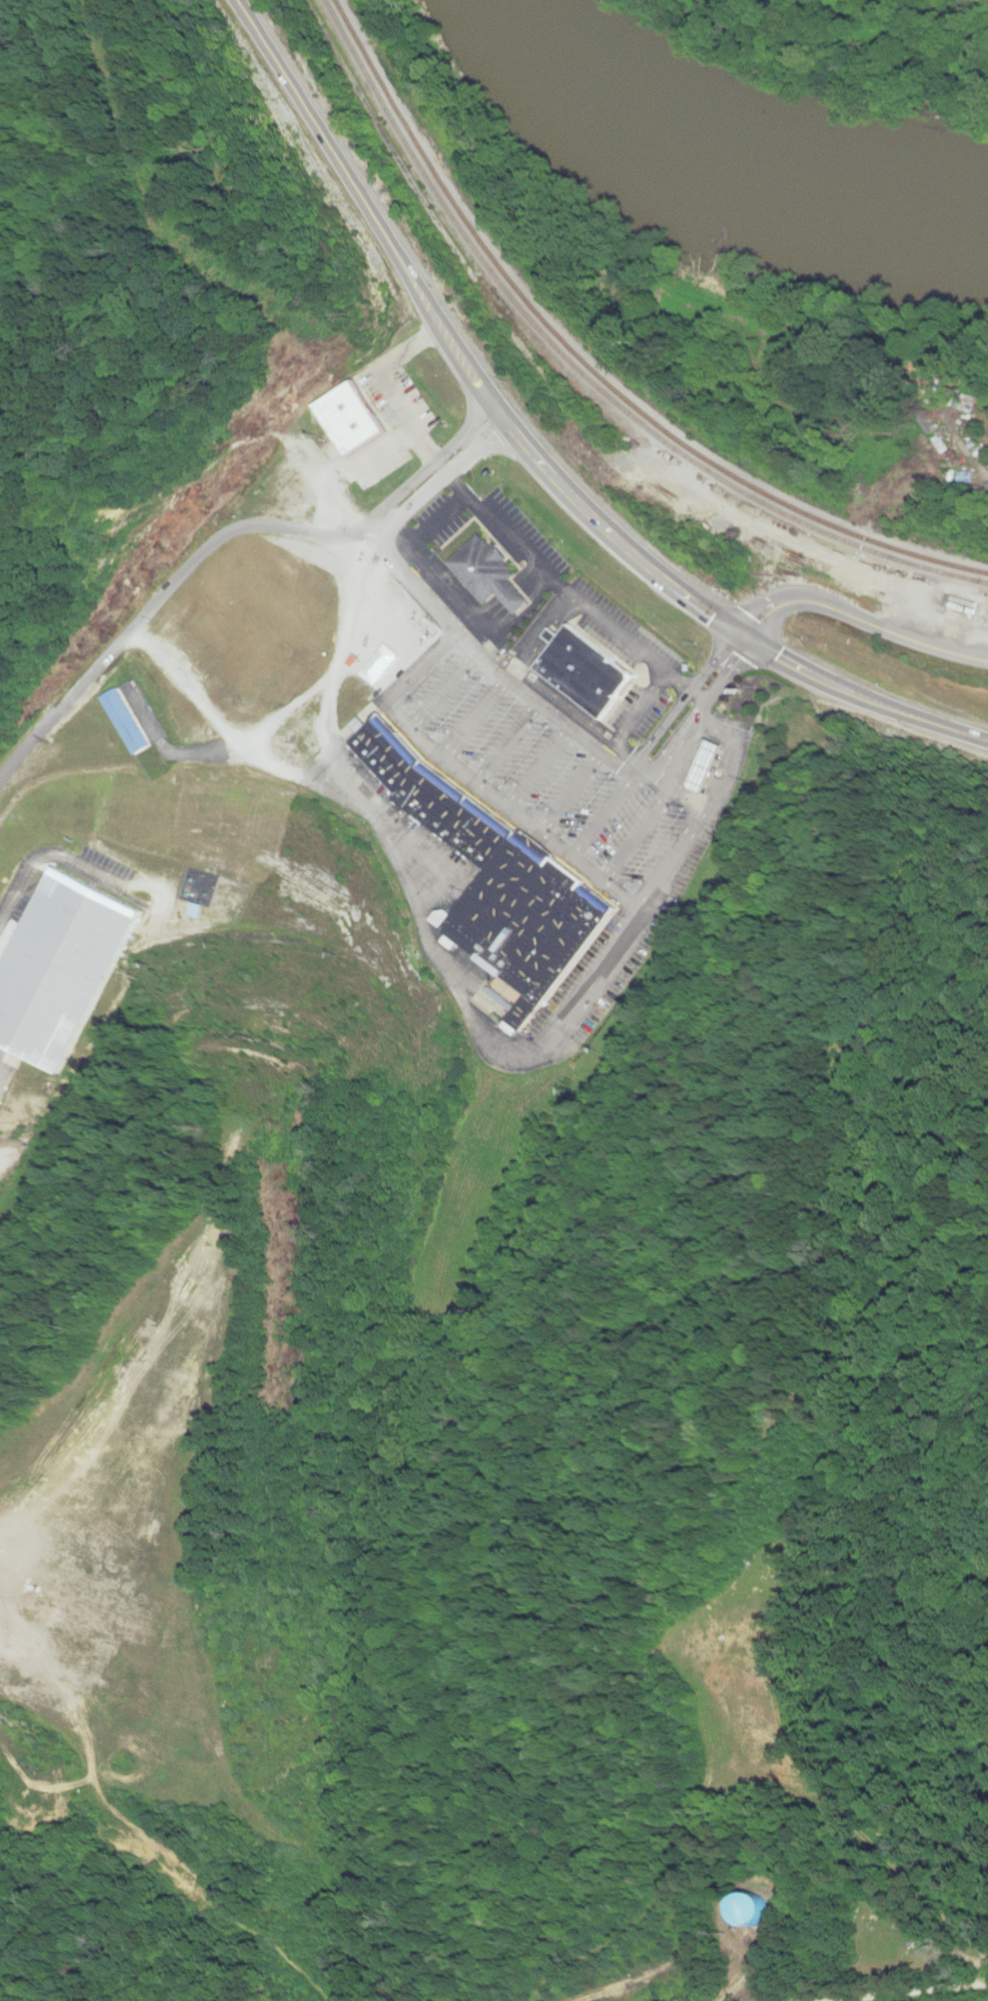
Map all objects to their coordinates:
river: (713, 153)
railway: (586, 371)
railway: (586, 374)
building: (349, 419)
road: (963, 449)
road: (534, 455)
building: (490, 574)
road: (861, 622)
building: (586, 674)
road: (695, 693)
road: (702, 701)
building: (127, 722)
building: (707, 767)
building: (498, 883)
building: (59, 968)
building: (752, 1909)
park: (901, 1960)
road: (910, 1992)

